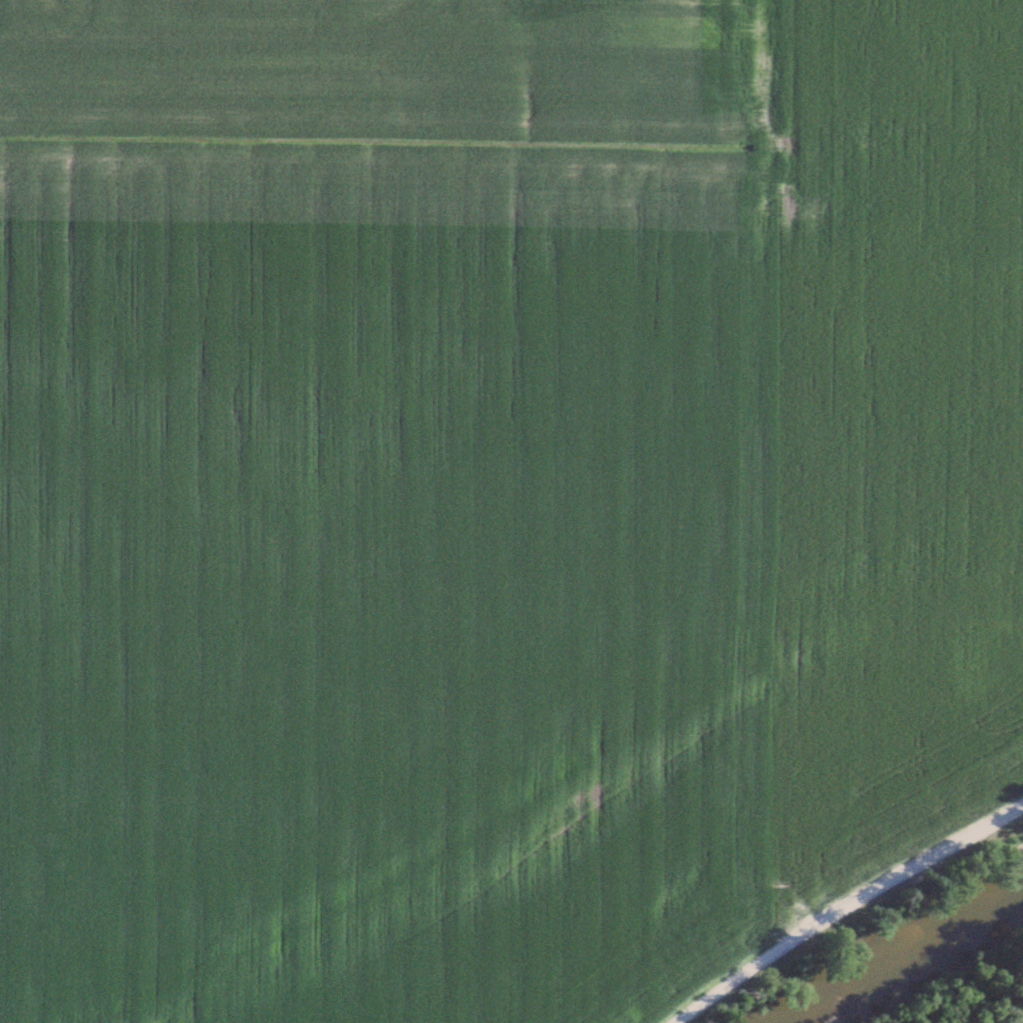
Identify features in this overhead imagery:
road: (845, 905)
river: (896, 951)

